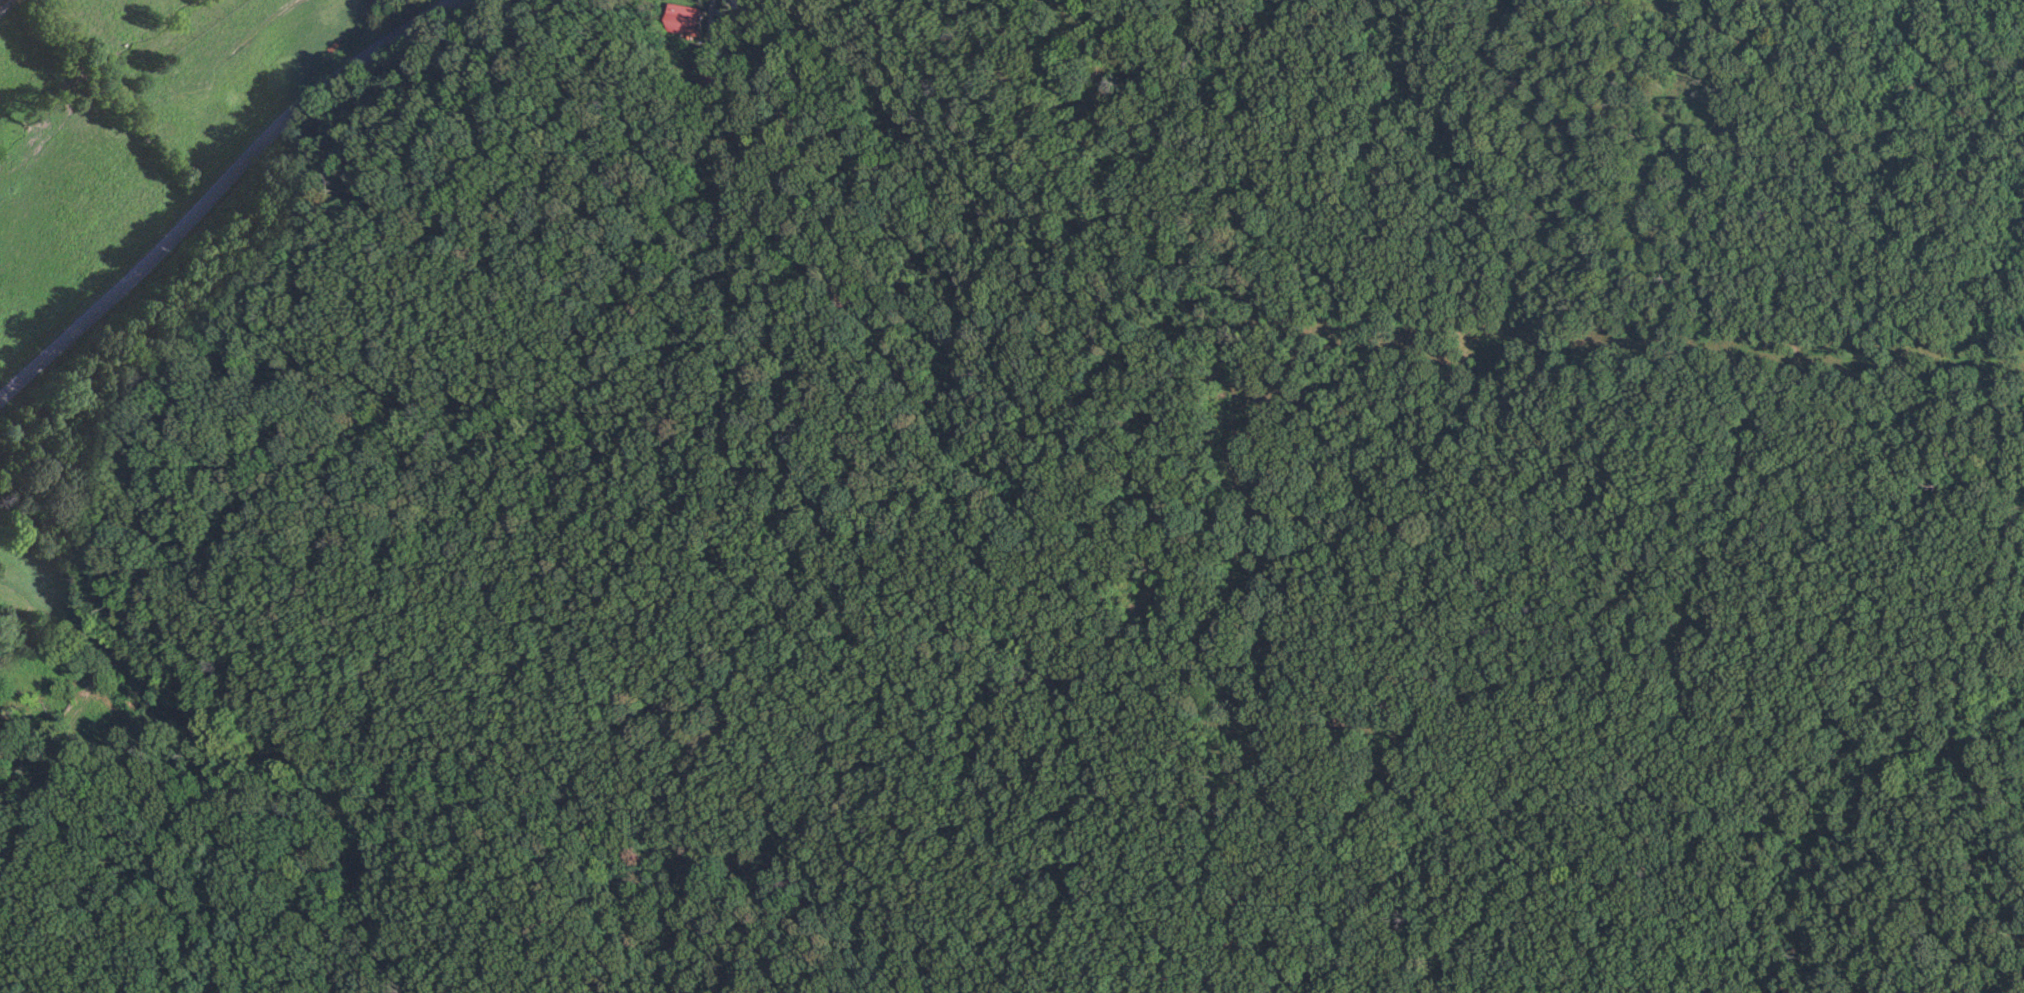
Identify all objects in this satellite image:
railway: (3, 2)
building: (678, 19)
road: (216, 185)

